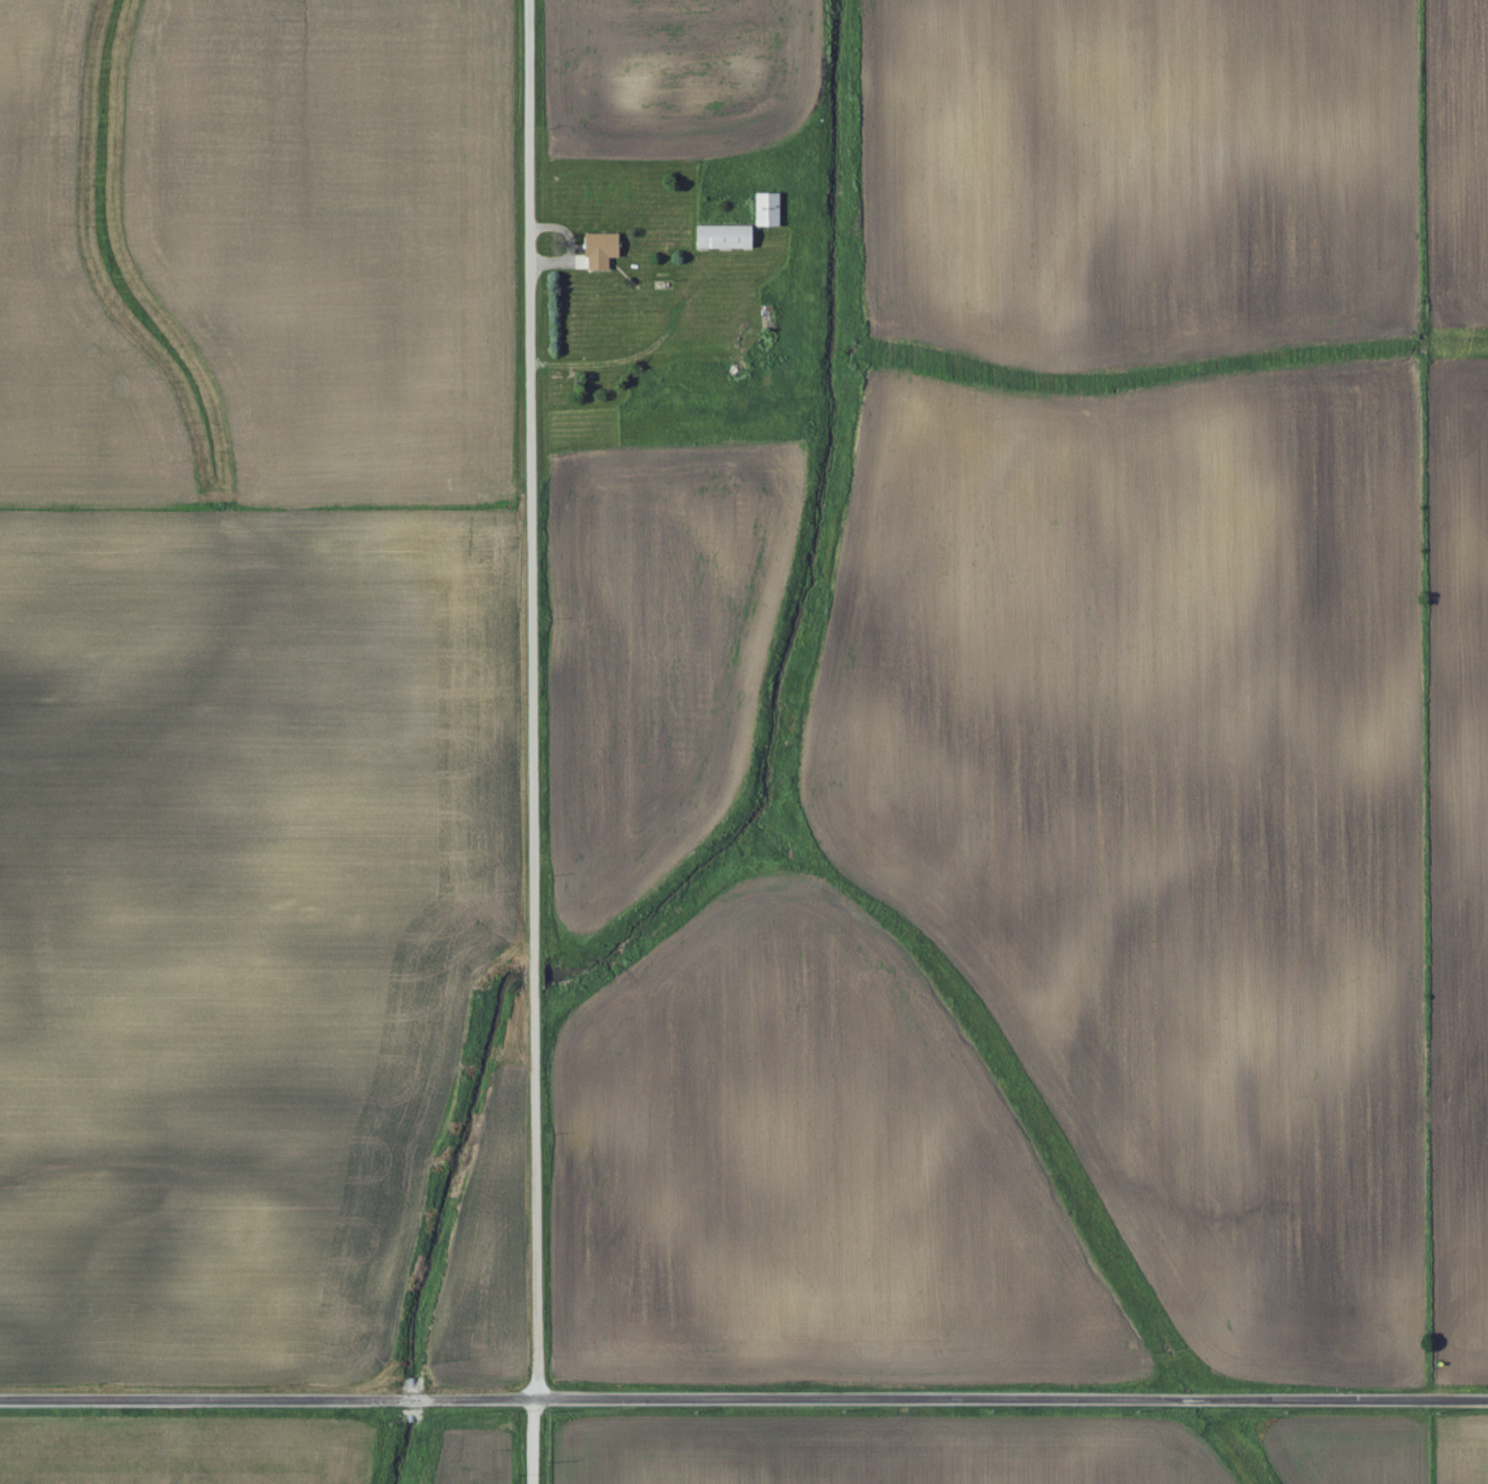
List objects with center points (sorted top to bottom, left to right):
building: (599, 250)
road: (529, 741)
road: (743, 1398)

